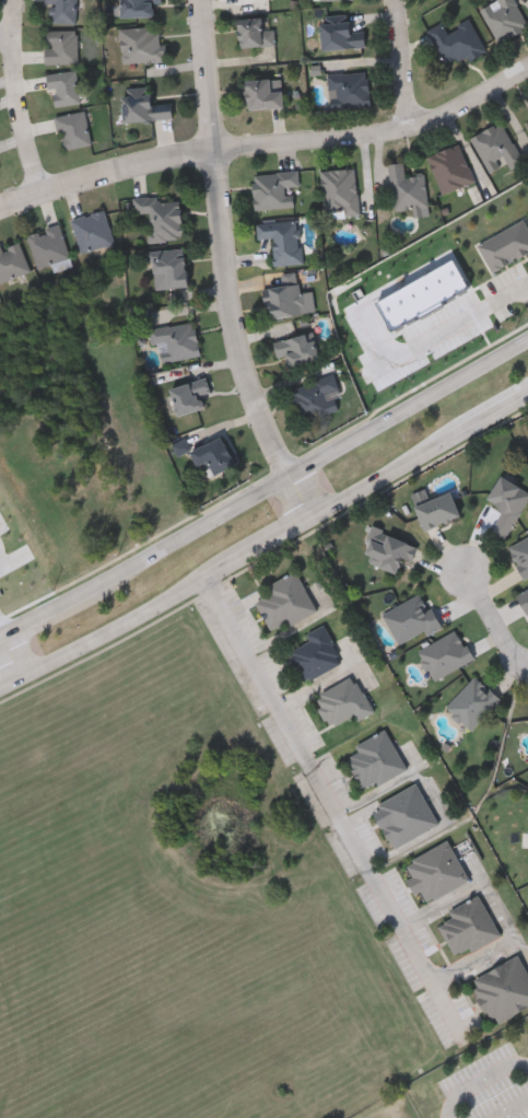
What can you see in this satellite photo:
building: (338, 0)
building: (139, 7)
building: (63, 10)
building: (505, 19)
building: (257, 32)
road: (7, 33)
building: (340, 34)
building: (456, 42)
building: (142, 44)
building: (62, 46)
road: (402, 62)
building: (64, 86)
building: (350, 89)
building: (265, 94)
road: (17, 96)
building: (143, 106)
building: (527, 121)
building: (527, 125)
building: (74, 129)
road: (267, 142)
building: (496, 148)
building: (451, 168)
building: (274, 188)
building: (408, 188)
building: (340, 191)
building: (162, 217)
building: (93, 230)
building: (283, 240)
building: (49, 244)
building: (12, 260)
road: (228, 265)
building: (171, 267)
road: (511, 294)
building: (289, 295)
building: (177, 341)
building: (296, 349)
building: (190, 395)
building: (316, 397)
building: (527, 430)
building: (213, 456)
road: (265, 487)
building: (507, 503)
building: (437, 509)
road: (265, 541)
building: (388, 548)
building: (520, 554)
road: (4, 563)
building: (524, 598)
building: (284, 602)
building: (411, 619)
road: (495, 620)
road: (1, 630)
building: (316, 653)
building: (446, 653)
building: (343, 701)
building: (473, 702)
building: (375, 760)
road: (271, 769)
road: (333, 807)
building: (404, 815)
building: (435, 872)
building: (468, 927)
building: (504, 989)
road: (474, 1084)
parking lot: (493, 1086)
park: (391, 1107)
road: (514, 1110)

